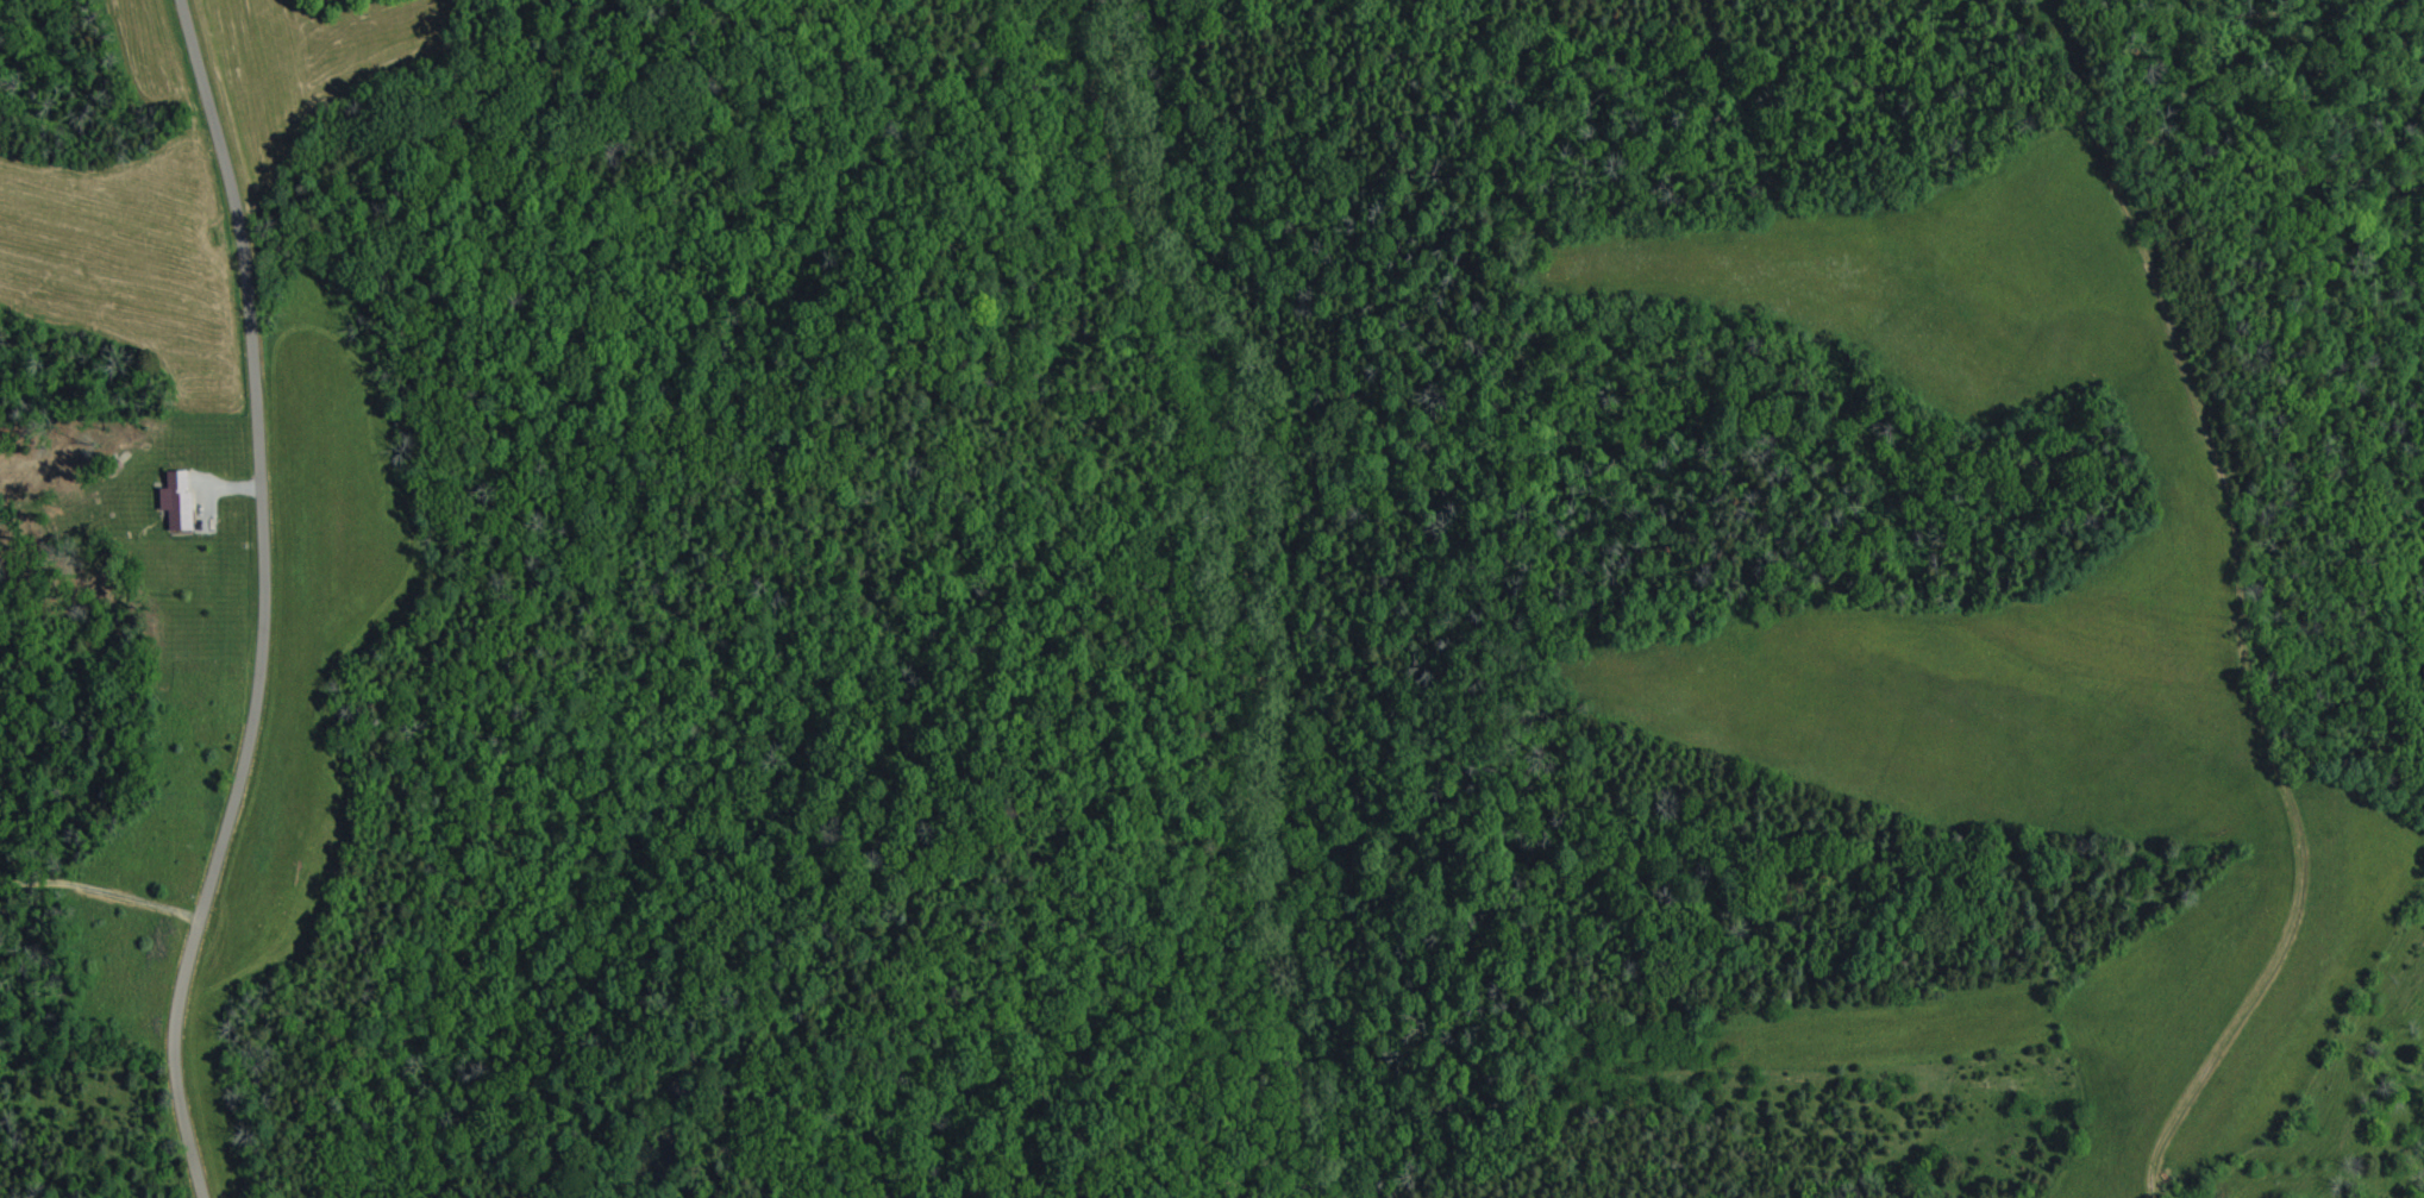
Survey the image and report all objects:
road: (258, 602)
crop: (2036, 710)

